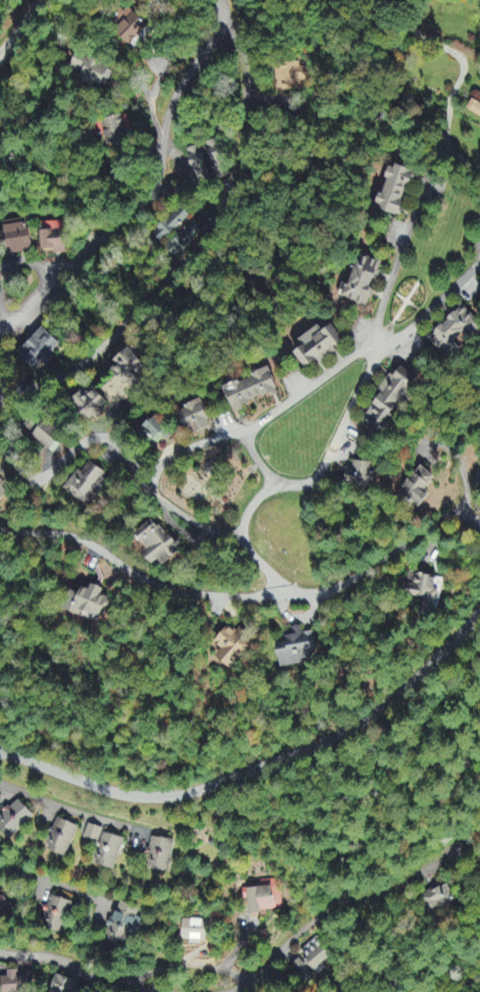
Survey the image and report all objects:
building: (129, 27)
road: (22, 28)
building: (91, 70)
building: (291, 77)
building: (474, 109)
building: (115, 131)
building: (208, 164)
road: (151, 192)
building: (396, 192)
building: (171, 225)
building: (53, 238)
building: (17, 240)
building: (186, 241)
road: (195, 251)
building: (363, 282)
building: (457, 332)
building: (320, 347)
building: (39, 349)
road: (376, 349)
road: (334, 370)
building: (130, 371)
building: (253, 391)
road: (1, 393)
building: (391, 402)
building: (92, 406)
building: (197, 419)
building: (158, 432)
building: (45, 434)
road: (339, 437)
road: (105, 440)
road: (257, 461)
road: (146, 464)
building: (362, 477)
building: (87, 484)
building: (1, 488)
building: (420, 489)
road: (470, 494)
building: (158, 544)
building: (424, 589)
road: (246, 599)
building: (88, 604)
building: (234, 648)
building: (298, 650)
road: (259, 769)
road: (74, 809)
building: (15, 821)
building: (94, 835)
building: (62, 839)
building: (109, 853)
building: (162, 857)
road: (55, 884)
building: (266, 899)
building: (439, 899)
road: (353, 901)
building: (3, 906)
building: (58, 917)
building: (124, 927)
building: (196, 932)
building: (313, 960)
road: (190, 965)
road: (80, 969)
building: (14, 983)
building: (63, 985)

